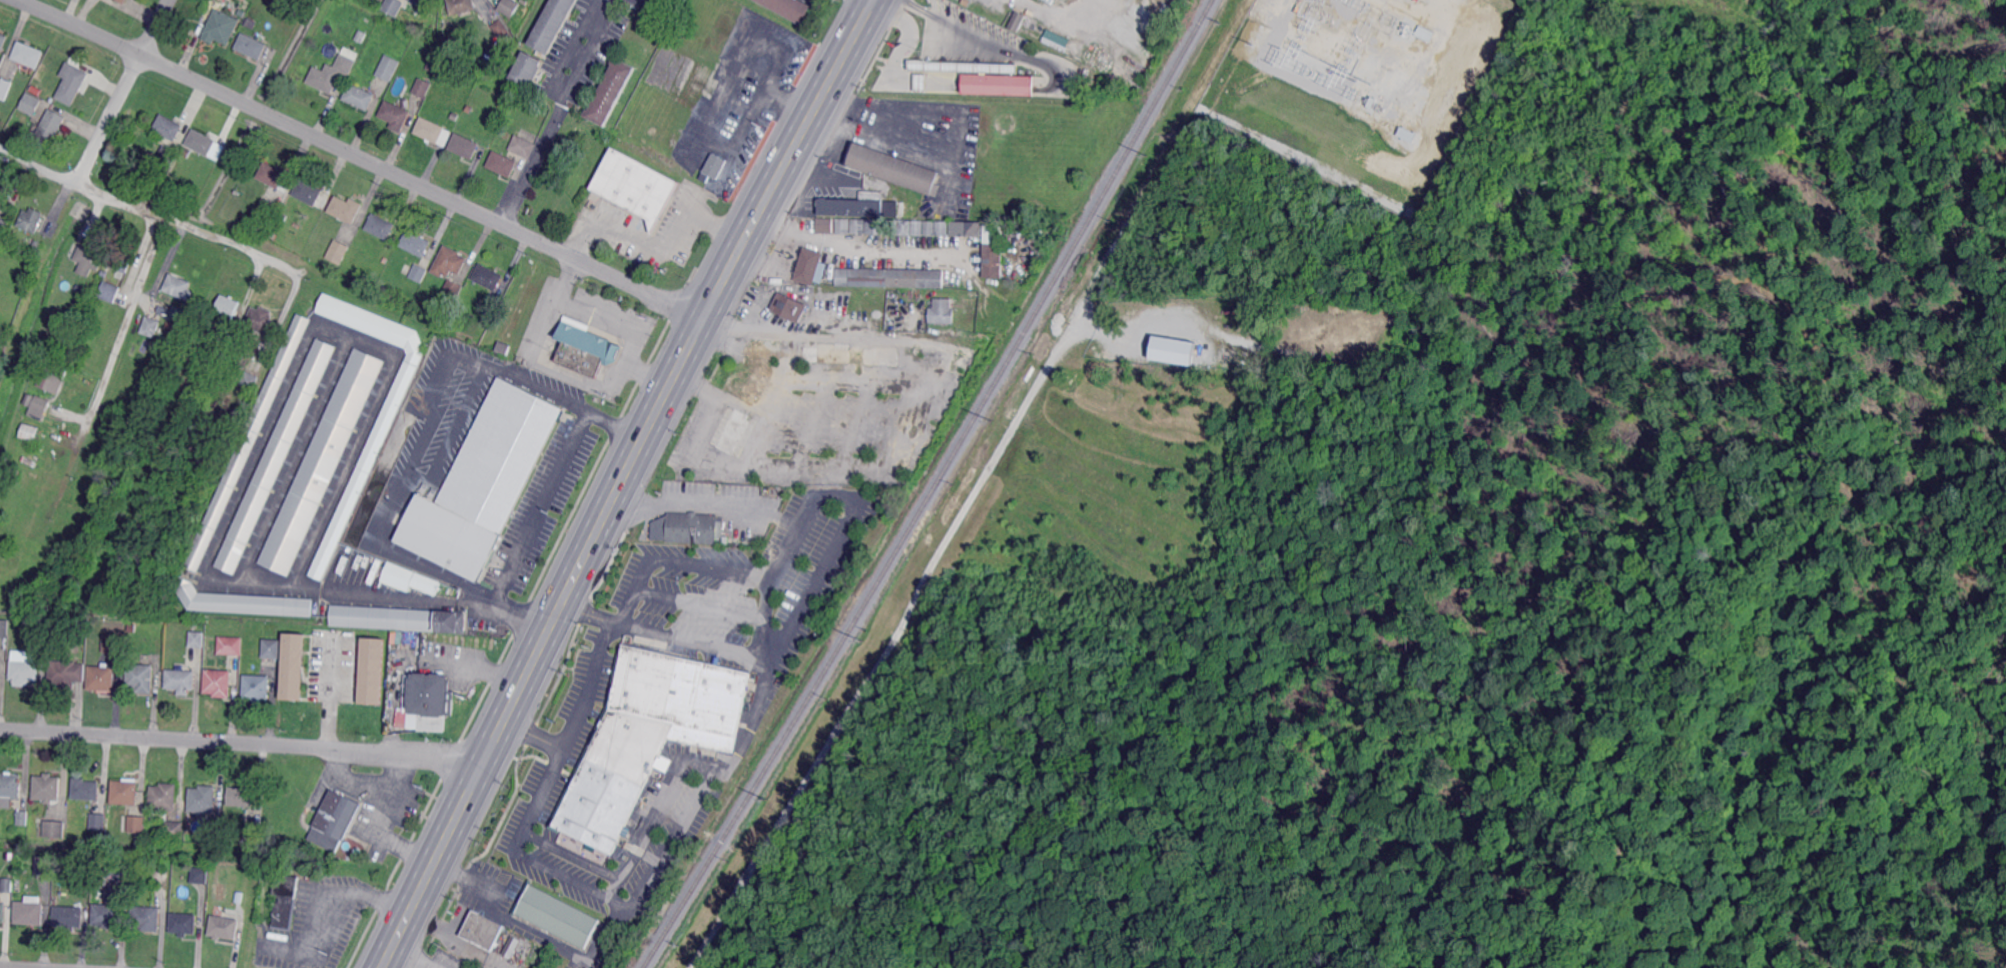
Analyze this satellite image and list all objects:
building: (246, 0)
building: (123, 1)
building: (524, 1)
building: (968, 2)
building: (423, 3)
building: (461, 6)
building: (394, 7)
building: (509, 7)
building: (787, 9)
building: (241, 14)
building: (1018, 20)
building: (252, 24)
building: (551, 24)
road: (963, 26)
building: (220, 27)
building: (501, 28)
building: (1423, 32)
road: (857, 33)
building: (360, 37)
building: (1055, 39)
building: (3, 41)
building: (250, 47)
building: (27, 55)
building: (492, 59)
building: (430, 67)
building: (964, 67)
building: (387, 68)
building: (527, 69)
building: (332, 72)
building: (467, 73)
building: (922, 83)
building: (73, 84)
power substation: (1358, 85)
building: (1003, 86)
building: (5, 87)
building: (422, 87)
road: (124, 89)
building: (37, 90)
building: (610, 91)
building: (359, 96)
building: (30, 104)
road: (751, 106)
building: (468, 109)
road: (558, 112)
building: (394, 116)
building: (456, 116)
building: (169, 126)
building: (50, 129)
building: (433, 131)
building: (201, 142)
building: (464, 145)
building: (523, 146)
building: (185, 152)
building: (167, 155)
road: (362, 158)
building: (502, 163)
building: (712, 167)
building: (892, 168)
building: (274, 177)
building: (634, 186)
building: (307, 191)
building: (1, 204)
building: (863, 206)
building: (266, 209)
building: (344, 209)
road: (153, 210)
building: (30, 220)
building: (257, 220)
building: (3, 225)
building: (825, 225)
building: (380, 226)
building: (844, 226)
building: (858, 226)
building: (874, 226)
building: (891, 226)
building: (905, 227)
building: (918, 227)
building: (930, 228)
building: (943, 228)
building: (967, 228)
building: (415, 243)
building: (36, 246)
road: (659, 249)
building: (339, 251)
building: (992, 251)
building: (88, 259)
building: (120, 260)
building: (448, 263)
building: (809, 266)
building: (419, 272)
building: (488, 277)
building: (890, 278)
building: (177, 286)
building: (452, 289)
building: (109, 292)
building: (490, 306)
building: (790, 307)
building: (227, 310)
building: (941, 312)
building: (178, 315)
road: (128, 319)
building: (260, 319)
road: (612, 323)
building: (151, 326)
building: (502, 348)
building: (196, 350)
building: (585, 350)
building: (1174, 350)
building: (52, 378)
building: (250, 380)
building: (234, 389)
building: (29, 400)
road: (661, 404)
building: (39, 408)
building: (31, 432)
building: (247, 443)
building: (275, 456)
building: (320, 463)
building: (365, 465)
building: (483, 482)
railway: (934, 487)
road: (709, 504)
road: (538, 505)
building: (693, 529)
road: (677, 563)
building: (409, 579)
road: (817, 581)
building: (241, 603)
road: (591, 610)
building: (397, 619)
building: (133, 624)
building: (69, 627)
building: (4, 628)
building: (197, 639)
building: (114, 643)
building: (231, 645)
building: (272, 648)
road: (414, 651)
building: (294, 666)
building: (24, 667)
building: (0, 669)
building: (372, 671)
building: (63, 674)
building: (141, 676)
building: (102, 678)
building: (181, 680)
building: (218, 682)
building: (257, 687)
building: (430, 701)
parking lot: (672, 702)
road: (536, 731)
road: (571, 735)
building: (648, 735)
road: (243, 743)
road: (353, 775)
building: (10, 785)
building: (47, 788)
road: (471, 788)
building: (86, 789)
building: (125, 791)
building: (244, 795)
building: (164, 796)
building: (203, 799)
building: (160, 815)
building: (194, 816)
building: (23, 817)
building: (98, 821)
building: (334, 821)
road: (376, 823)
building: (137, 824)
building: (50, 829)
building: (216, 829)
building: (175, 830)
building: (251, 834)
building: (140, 836)
building: (140, 843)
building: (45, 865)
building: (110, 871)
building: (123, 871)
building: (200, 875)
building: (8, 884)
building: (88, 884)
building: (19, 885)
building: (239, 897)
road: (332, 897)
road: (417, 898)
building: (287, 901)
road: (635, 902)
building: (2, 909)
building: (30, 910)
building: (108, 915)
road: (508, 915)
building: (69, 916)
building: (558, 916)
building: (147, 917)
building: (184, 923)
building: (223, 927)
building: (483, 929)
road: (602, 938)
building: (511, 943)
road: (423, 955)
road: (13, 967)

